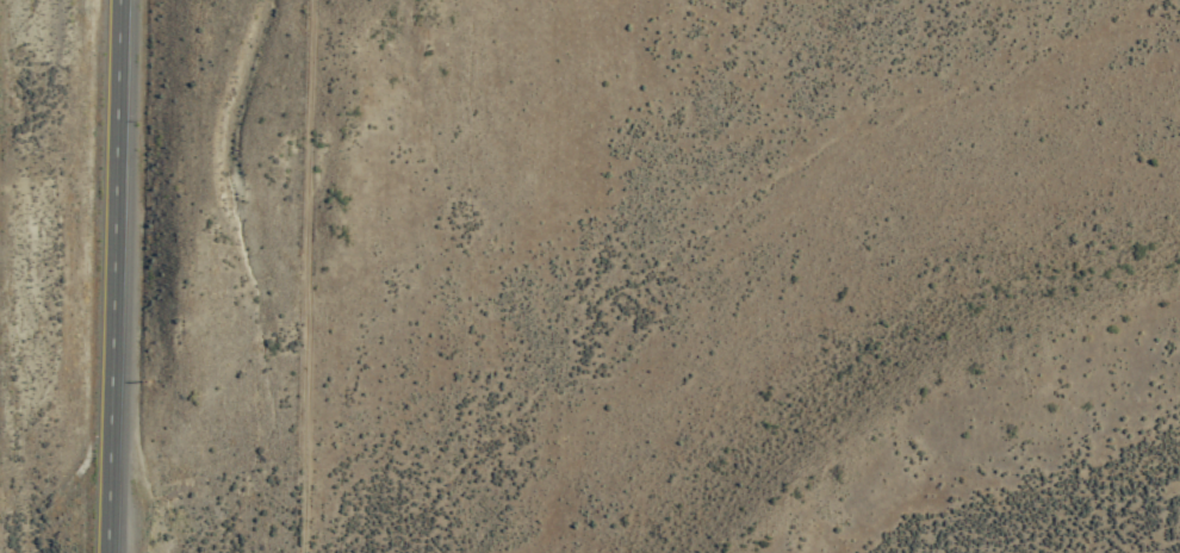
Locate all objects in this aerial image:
road: (302, 275)
road: (119, 276)
crop: (731, 291)

